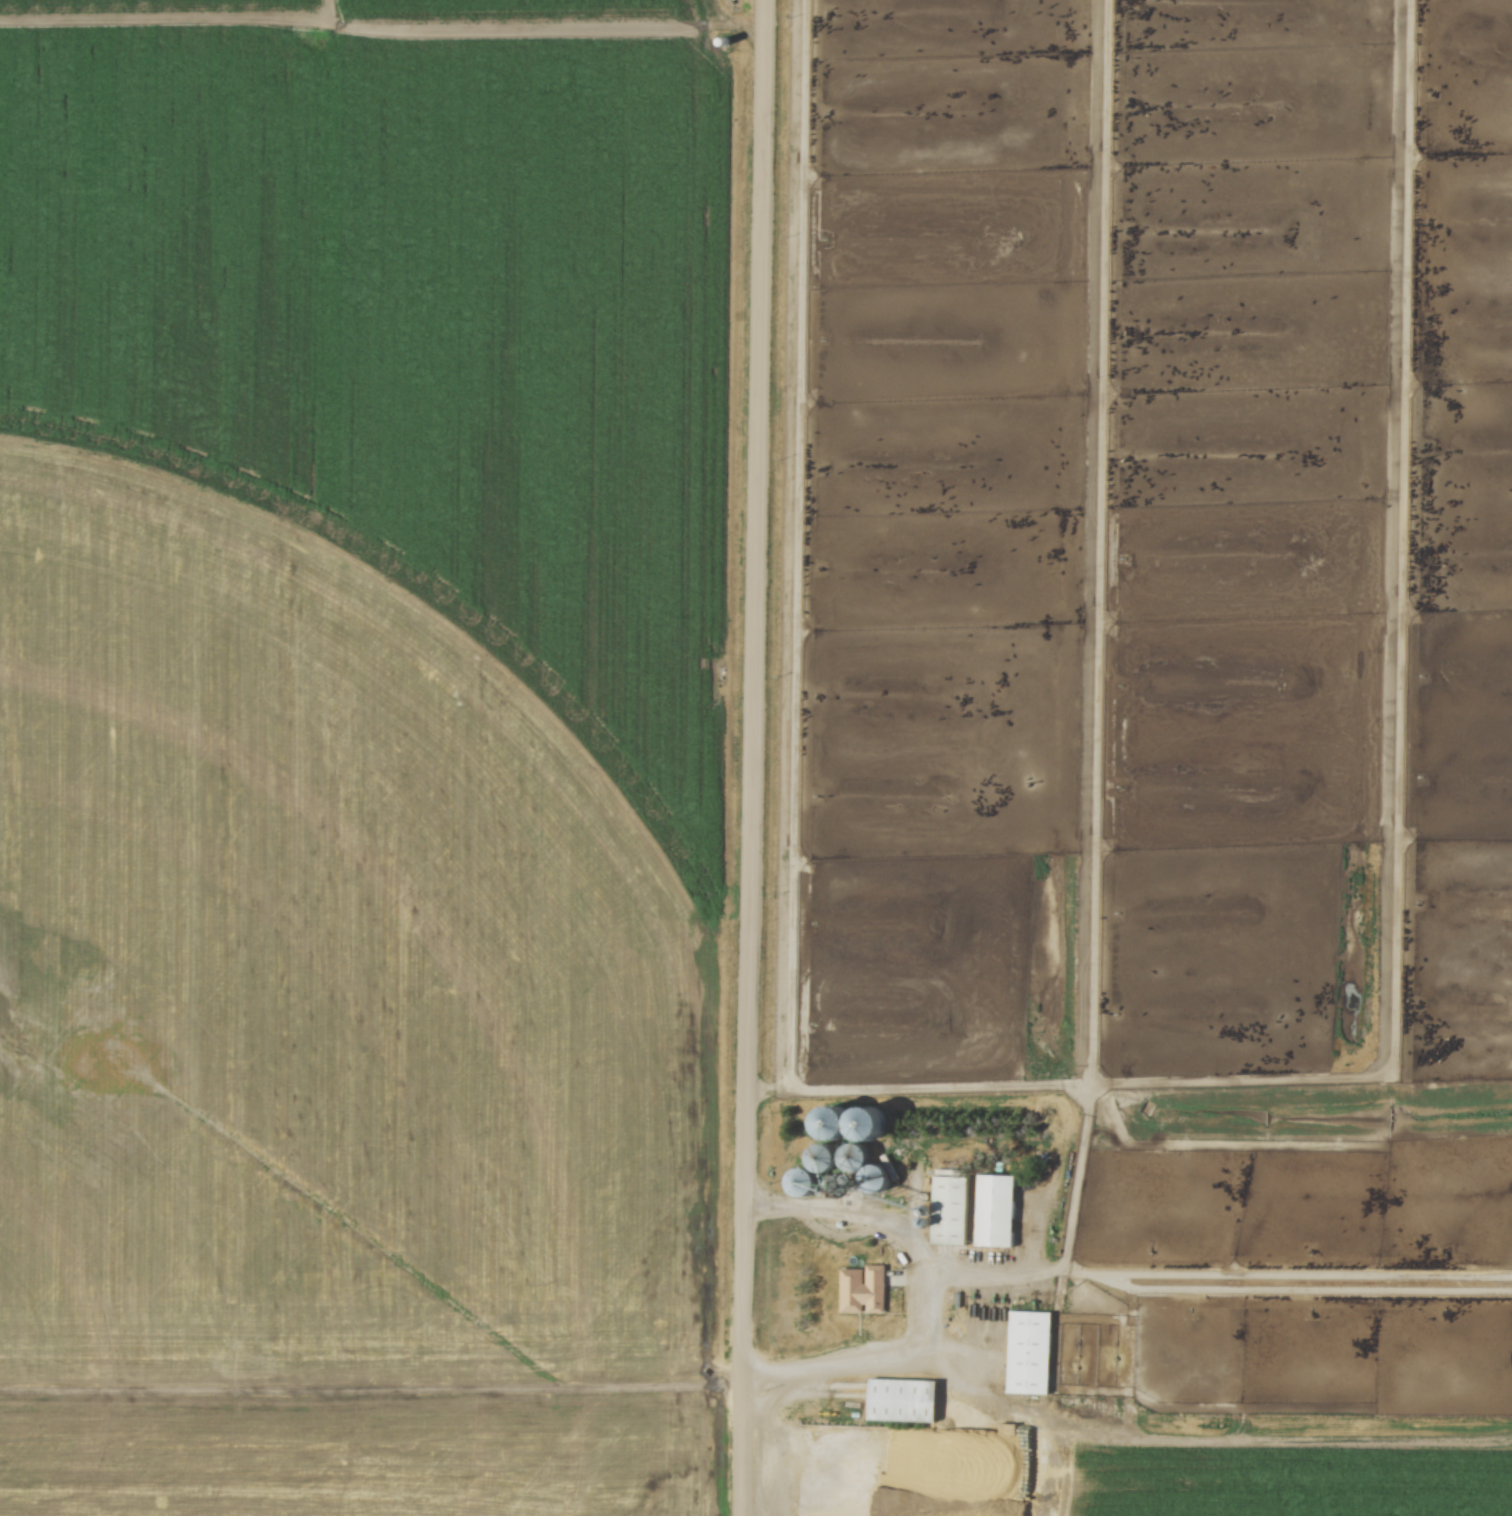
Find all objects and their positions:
road: (752, 757)
building: (1008, 1213)
building: (961, 1214)
road: (932, 1287)
building: (859, 1289)
building: (1041, 1354)
building: (915, 1402)

